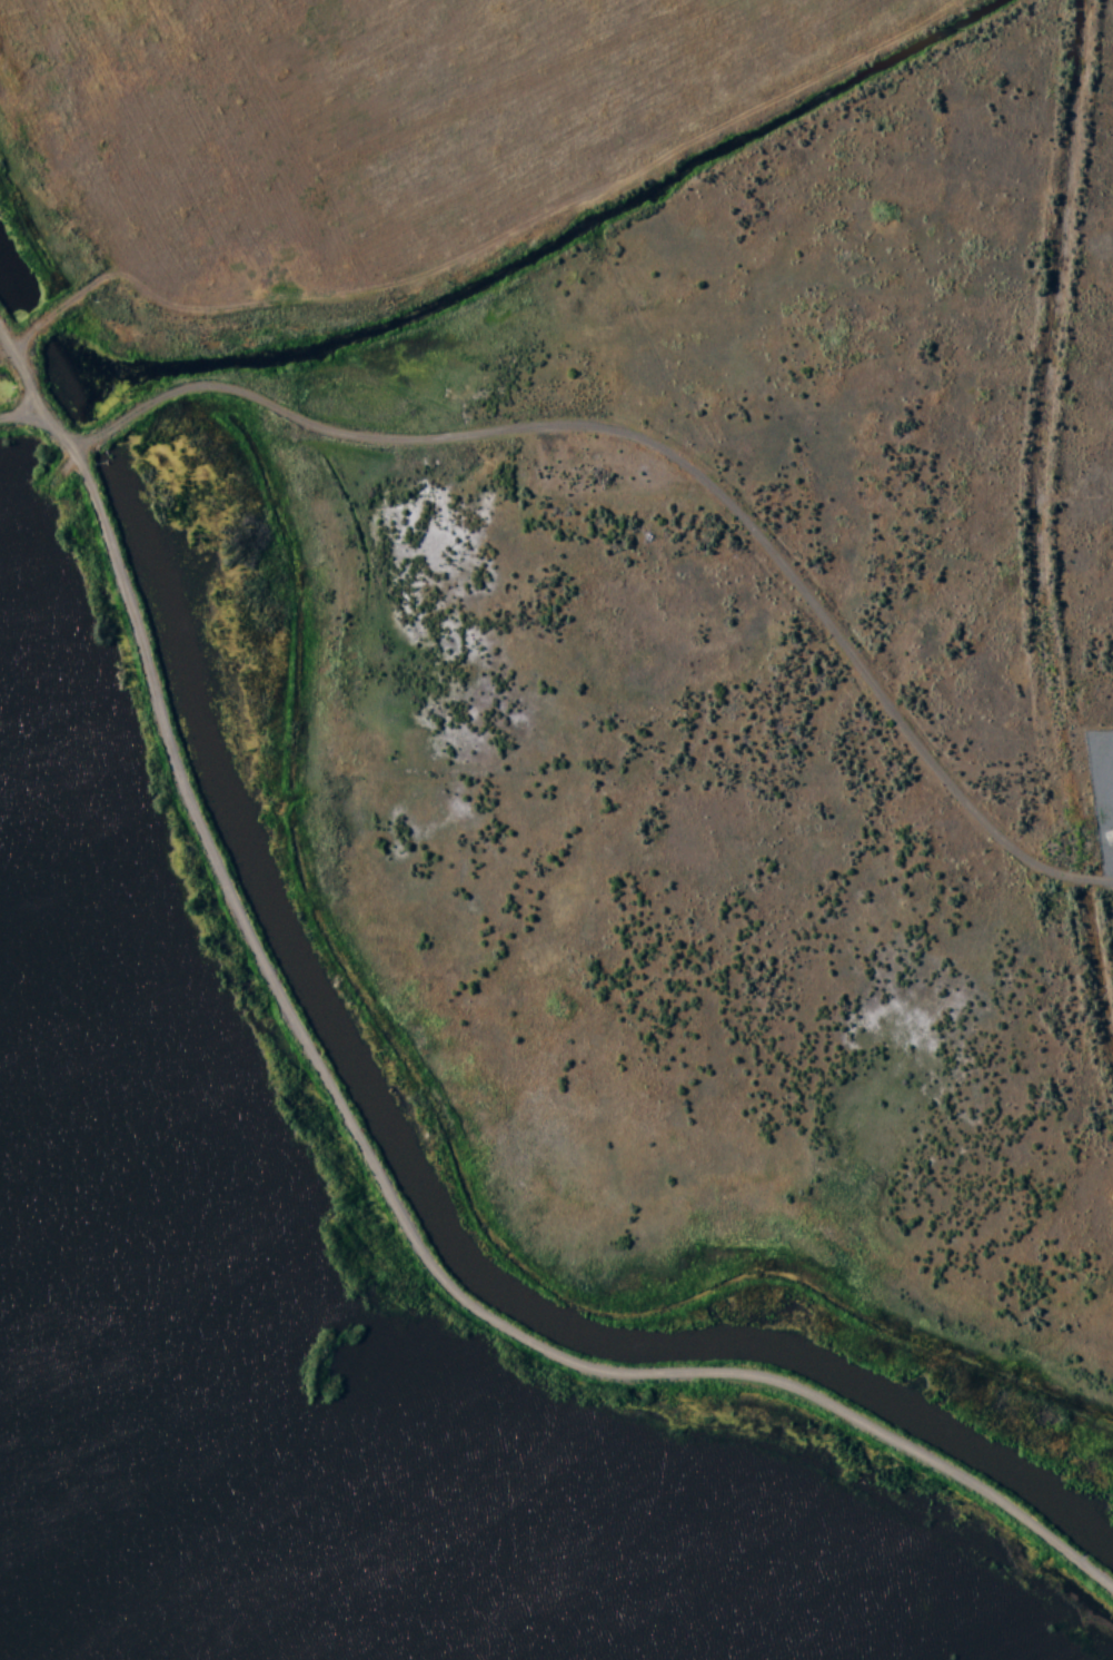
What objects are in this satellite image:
parking lot: (608, 468)
road: (719, 488)
road: (493, 888)
road: (1093, 981)

